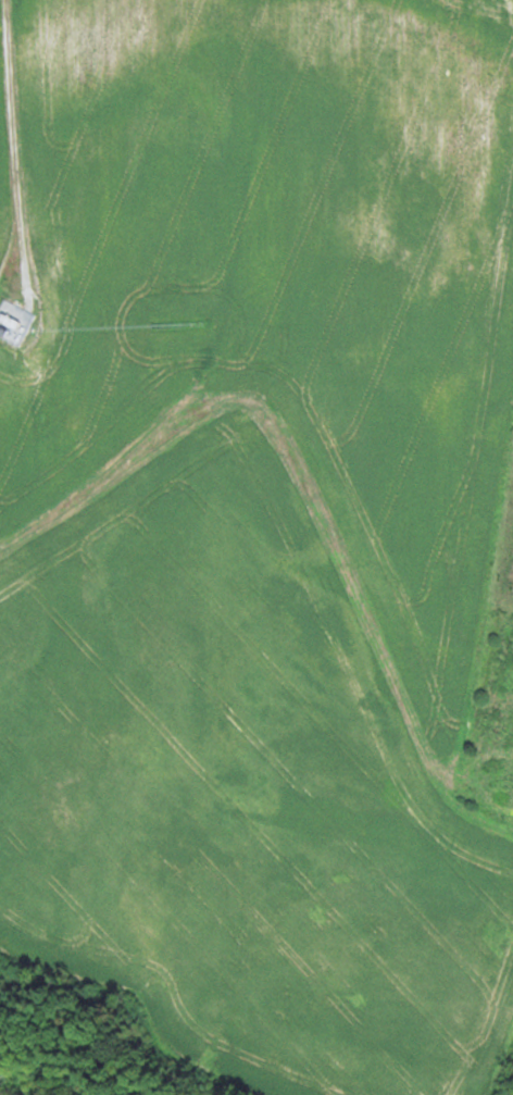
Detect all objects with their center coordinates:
building: (500, 1)
building: (8, 321)

